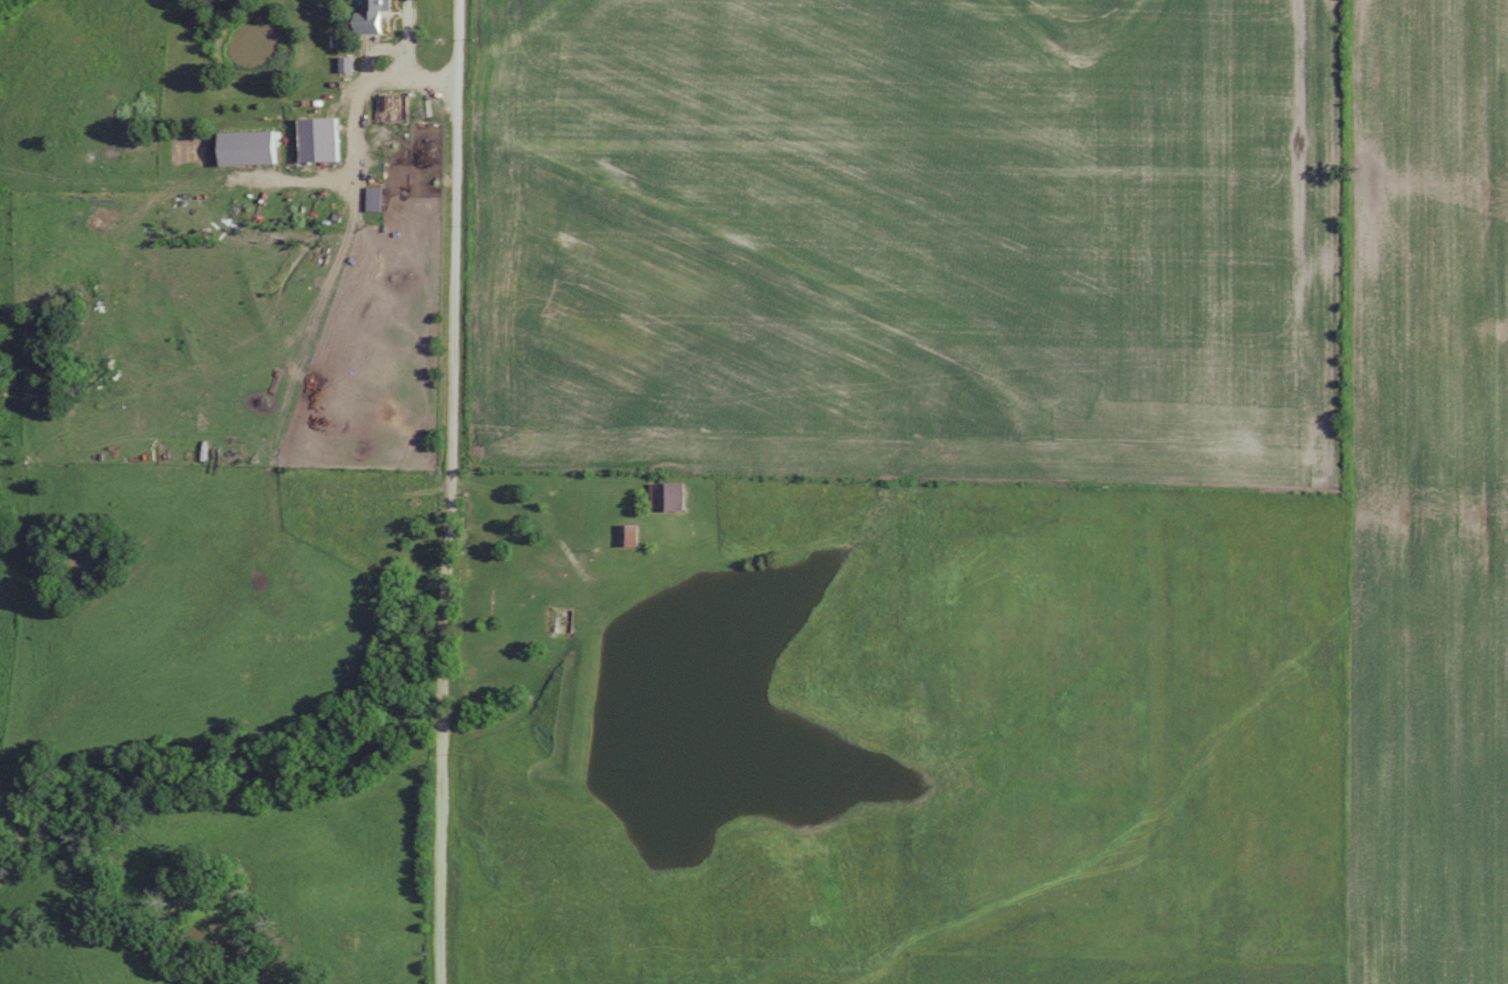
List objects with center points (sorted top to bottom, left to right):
building: (377, 16)
building: (396, 108)
road: (449, 492)

